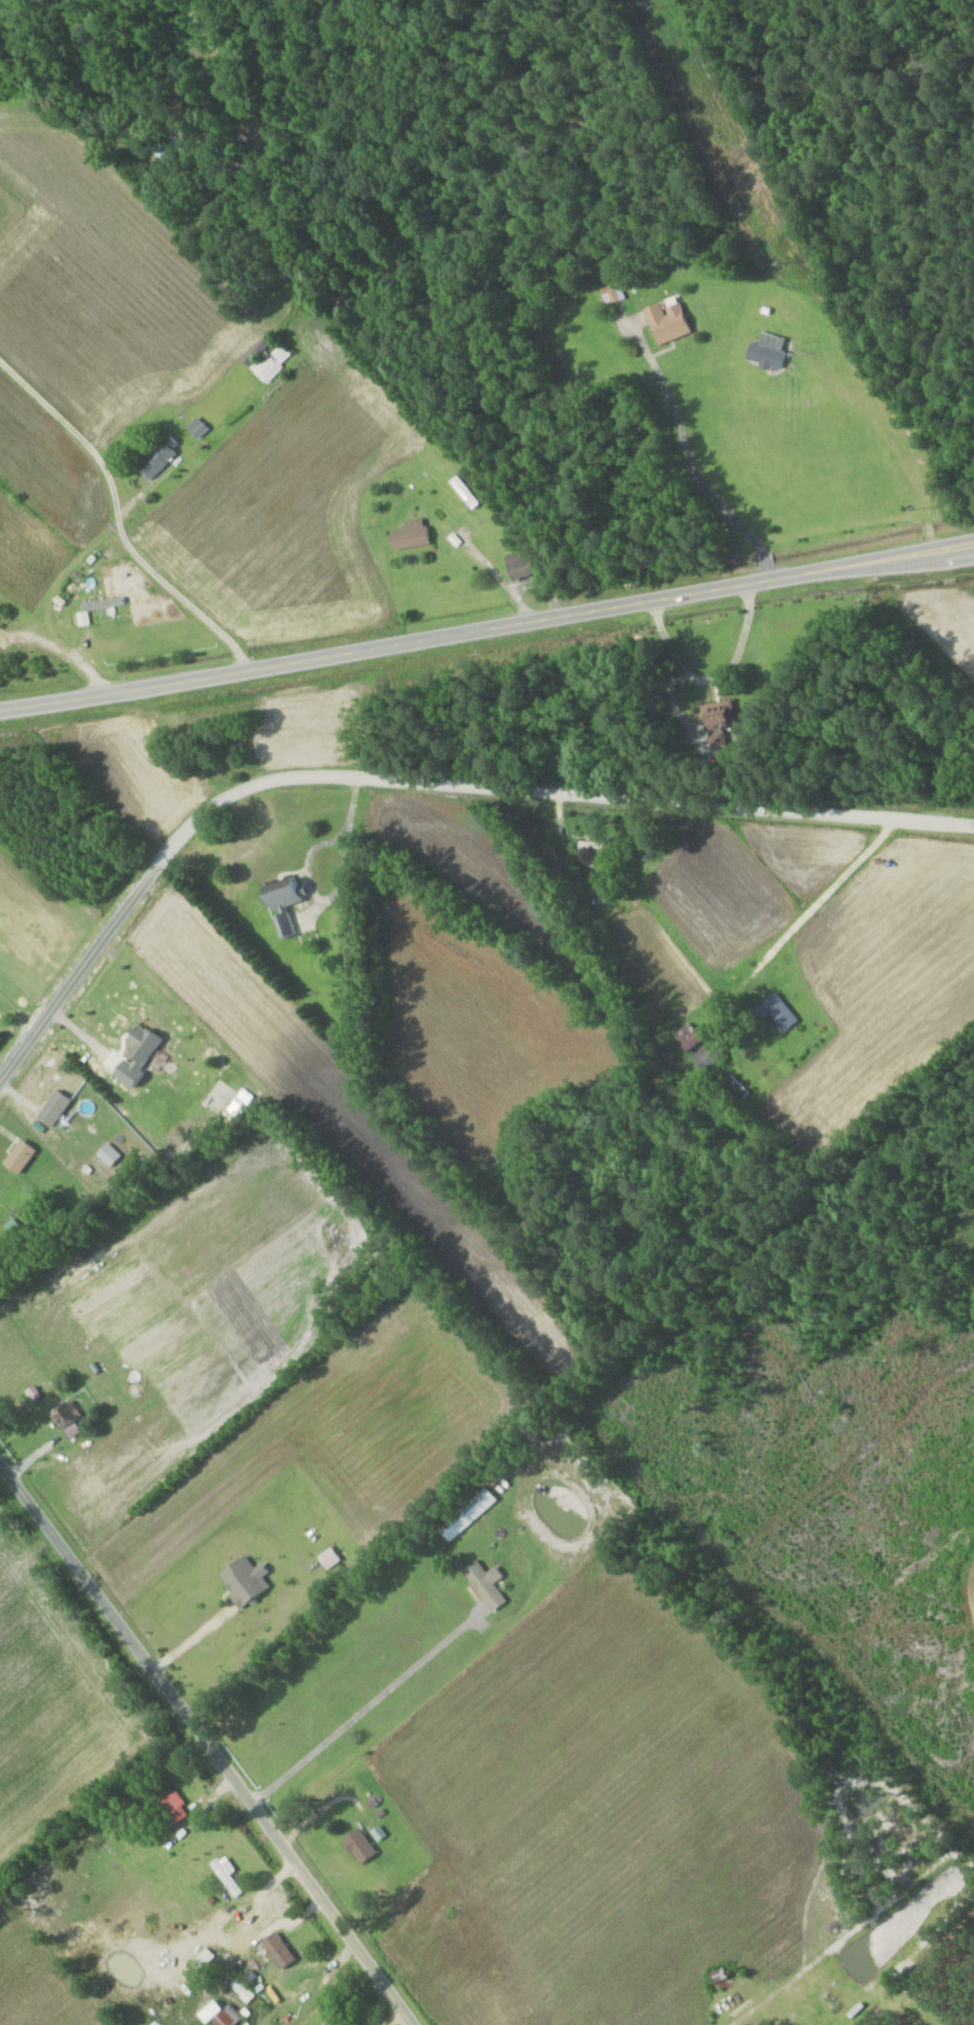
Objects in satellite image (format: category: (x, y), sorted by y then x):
building: (170, 149)
building: (673, 320)
building: (772, 350)
building: (270, 357)
building: (201, 427)
building: (163, 457)
building: (467, 491)
building: (416, 534)
road: (537, 547)
building: (527, 564)
building: (114, 603)
road: (487, 629)
building: (718, 714)
road: (416, 780)
building: (587, 846)
building: (289, 902)
road: (812, 908)
building: (351, 967)
building: (776, 1011)
building: (694, 1034)
building: (150, 1040)
building: (714, 1053)
building: (740, 1084)
building: (59, 1106)
building: (25, 1154)
building: (1, 1263)
building: (70, 1415)
building: (475, 1512)
building: (492, 1584)
road: (192, 1639)
road: (206, 1743)
building: (177, 1800)
building: (366, 1846)
building: (231, 1876)
building: (284, 1950)
building: (245, 1989)
building: (226, 2014)
road: (739, 2017)
building: (343, 2024)
building: (749, 2024)

